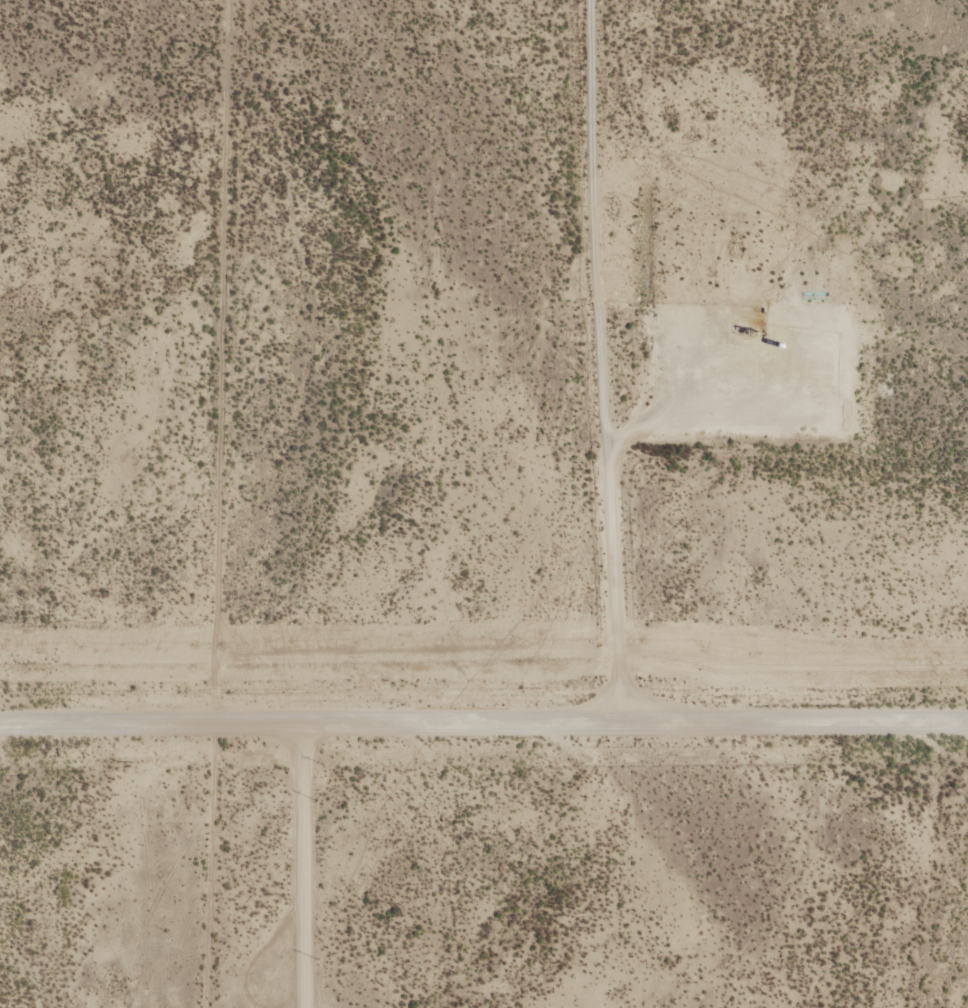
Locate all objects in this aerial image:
road: (483, 722)

